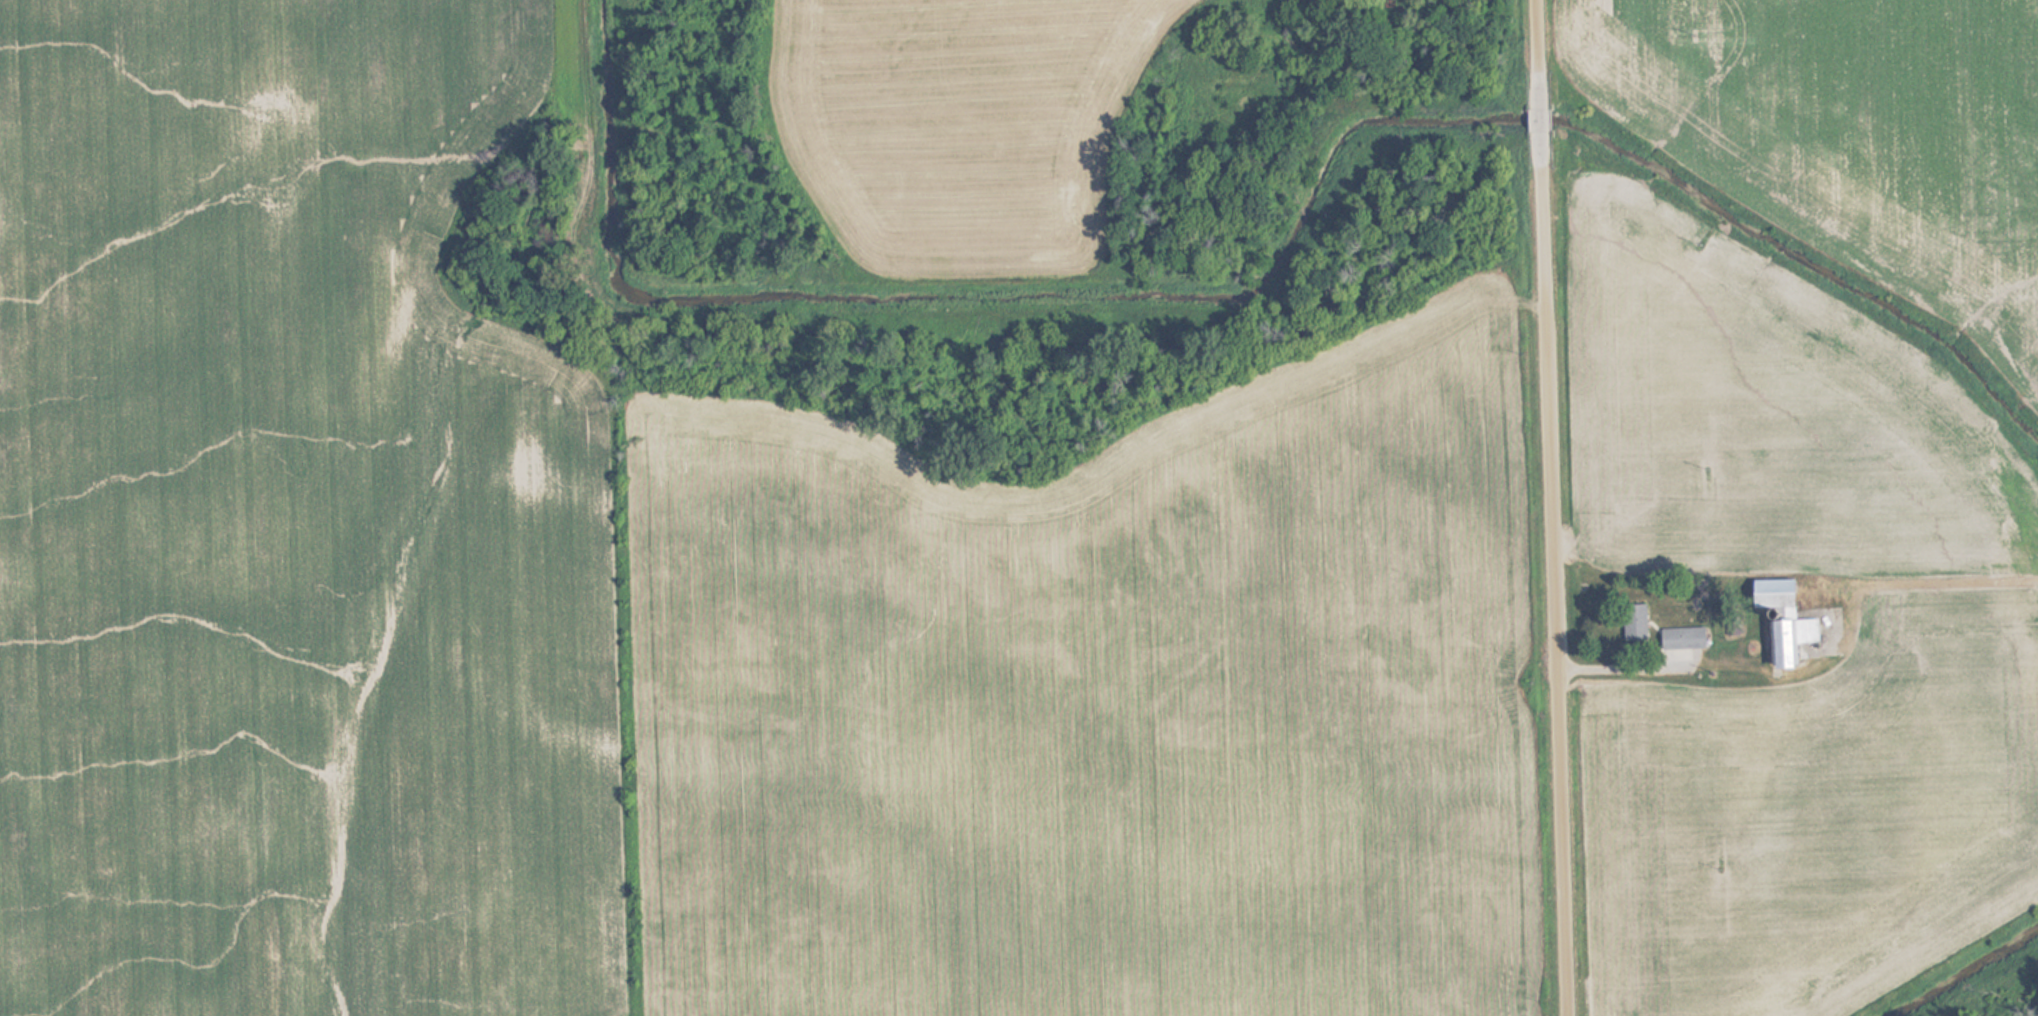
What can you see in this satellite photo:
road: (1532, 55)
road: (1535, 120)
road: (1551, 573)
building: (1637, 622)
building: (1786, 622)
building: (1685, 637)

